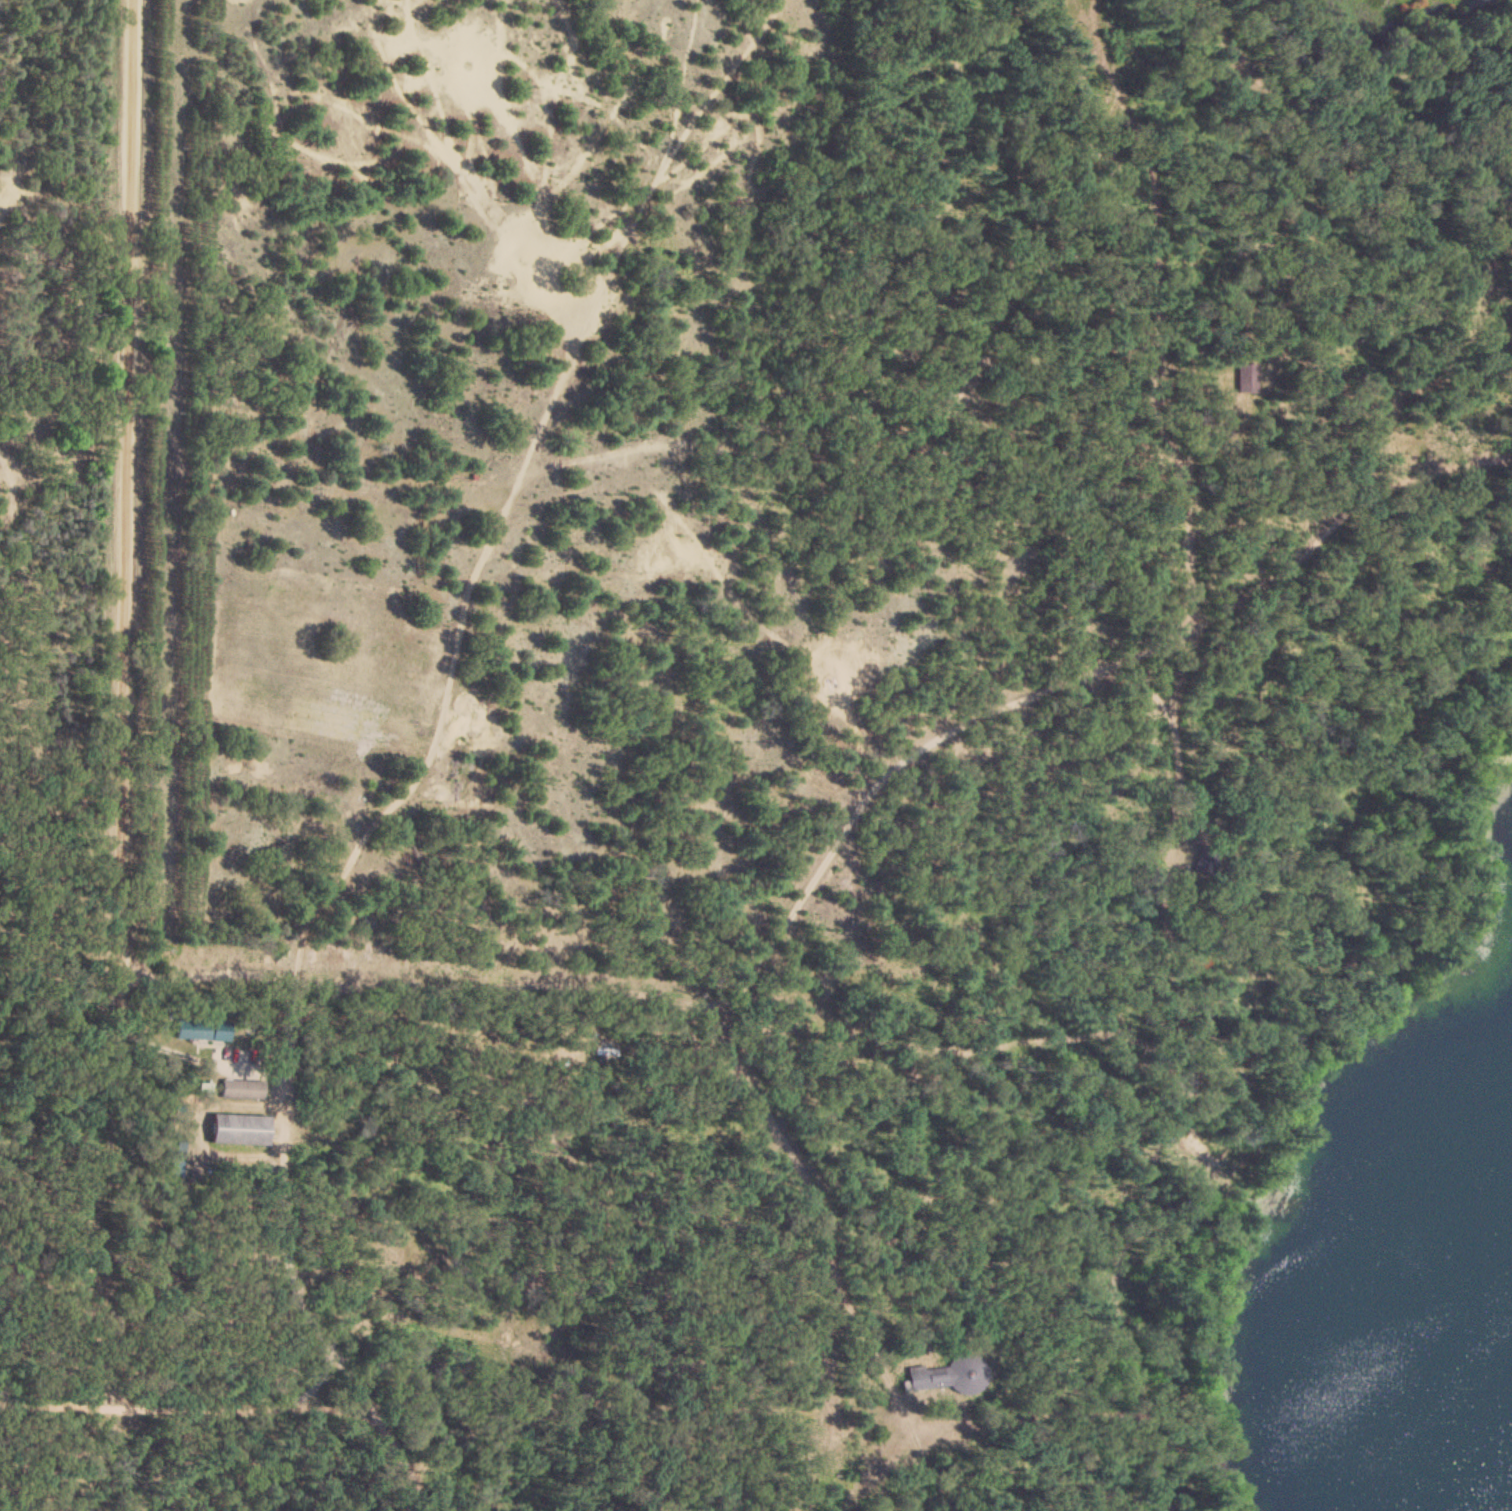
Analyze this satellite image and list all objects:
building: (1246, 380)
road: (1188, 509)
road: (1190, 683)
road: (116, 686)
road: (846, 856)
road: (574, 991)
building: (200, 1034)
road: (192, 1049)
building: (241, 1093)
road: (952, 1099)
building: (238, 1134)
road: (284, 1264)
road: (50, 1376)
building: (947, 1378)

